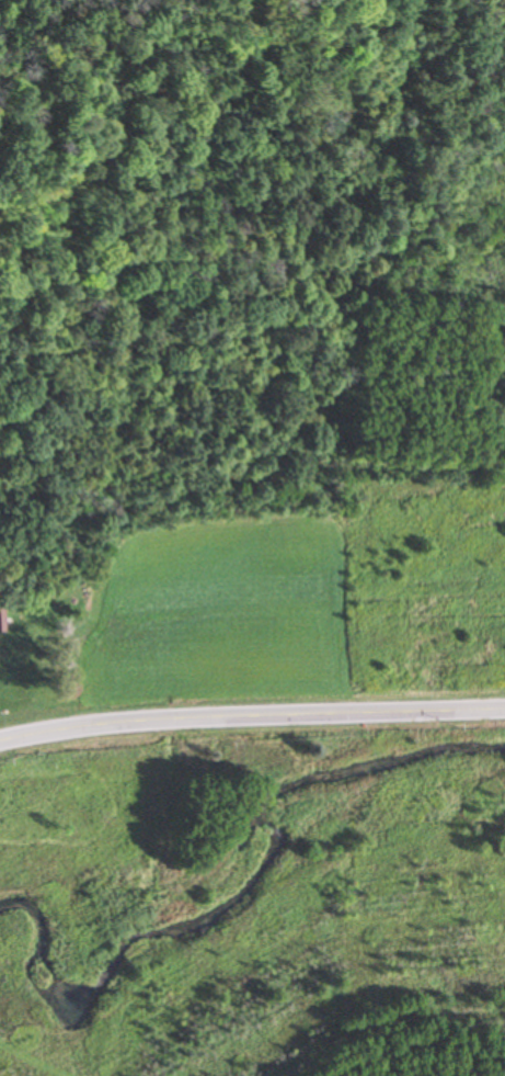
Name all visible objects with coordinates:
road: (251, 717)

